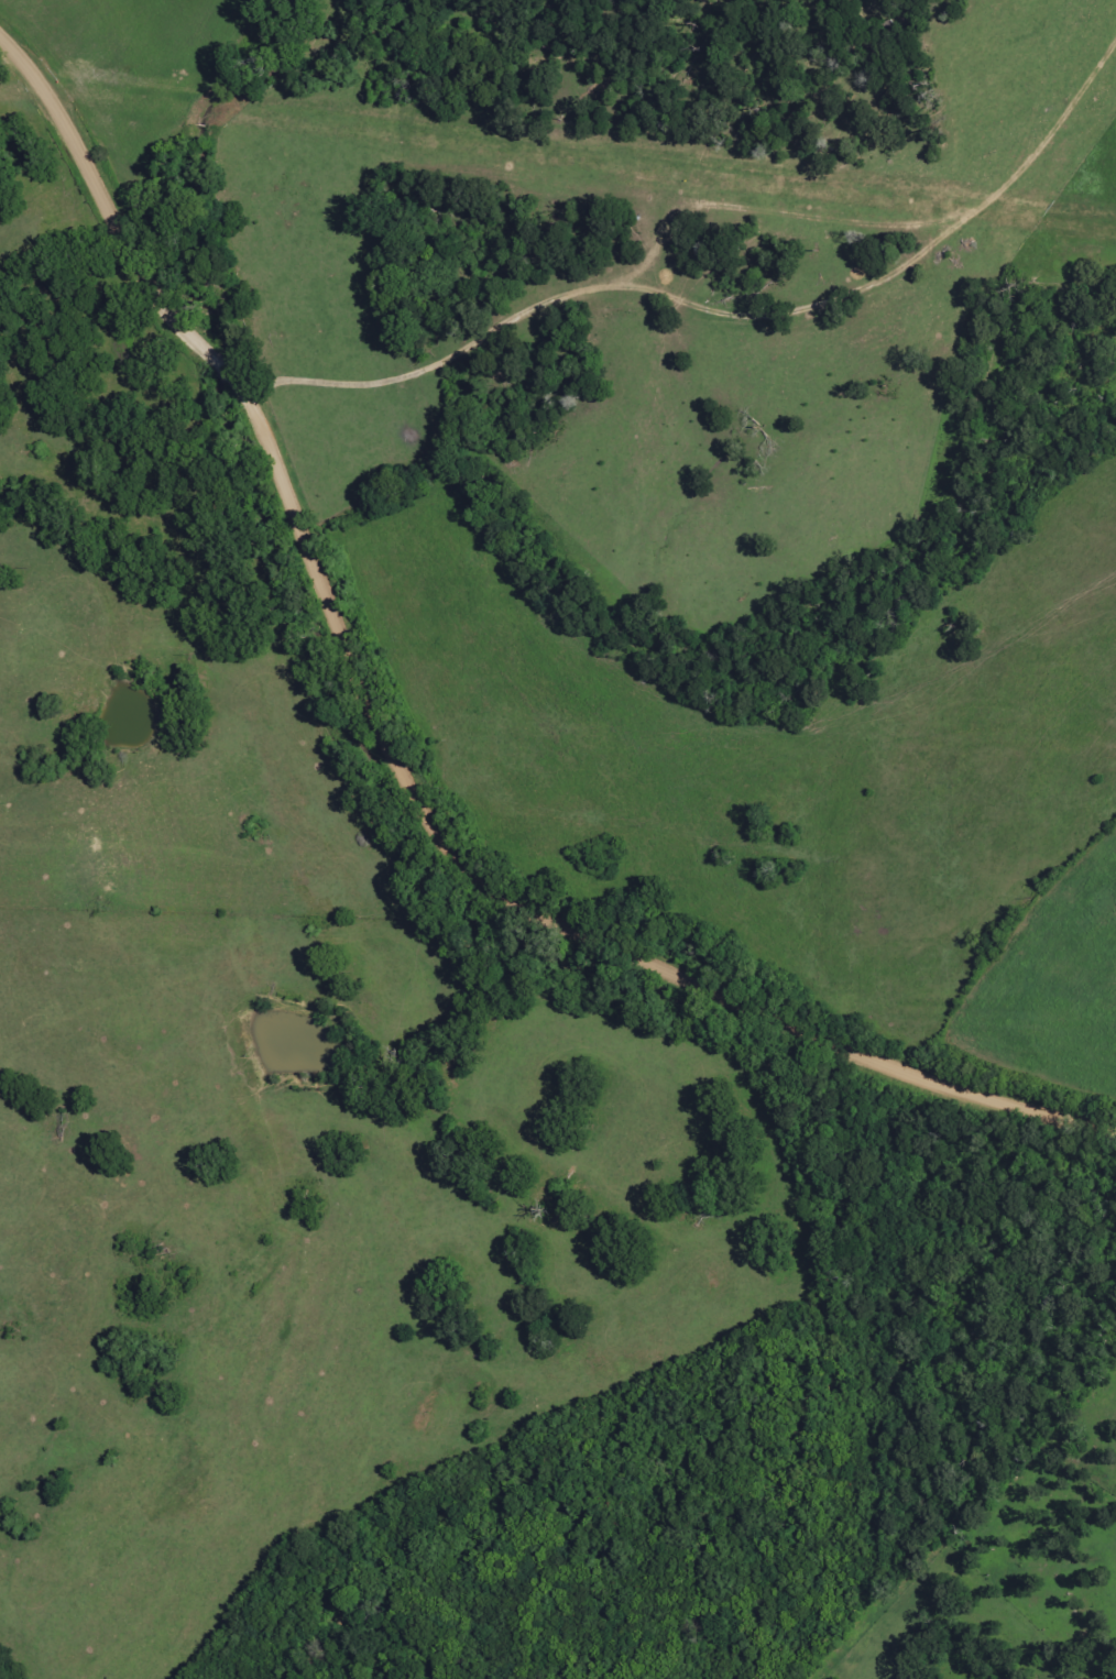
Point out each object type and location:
road: (751, 318)
road: (397, 756)

